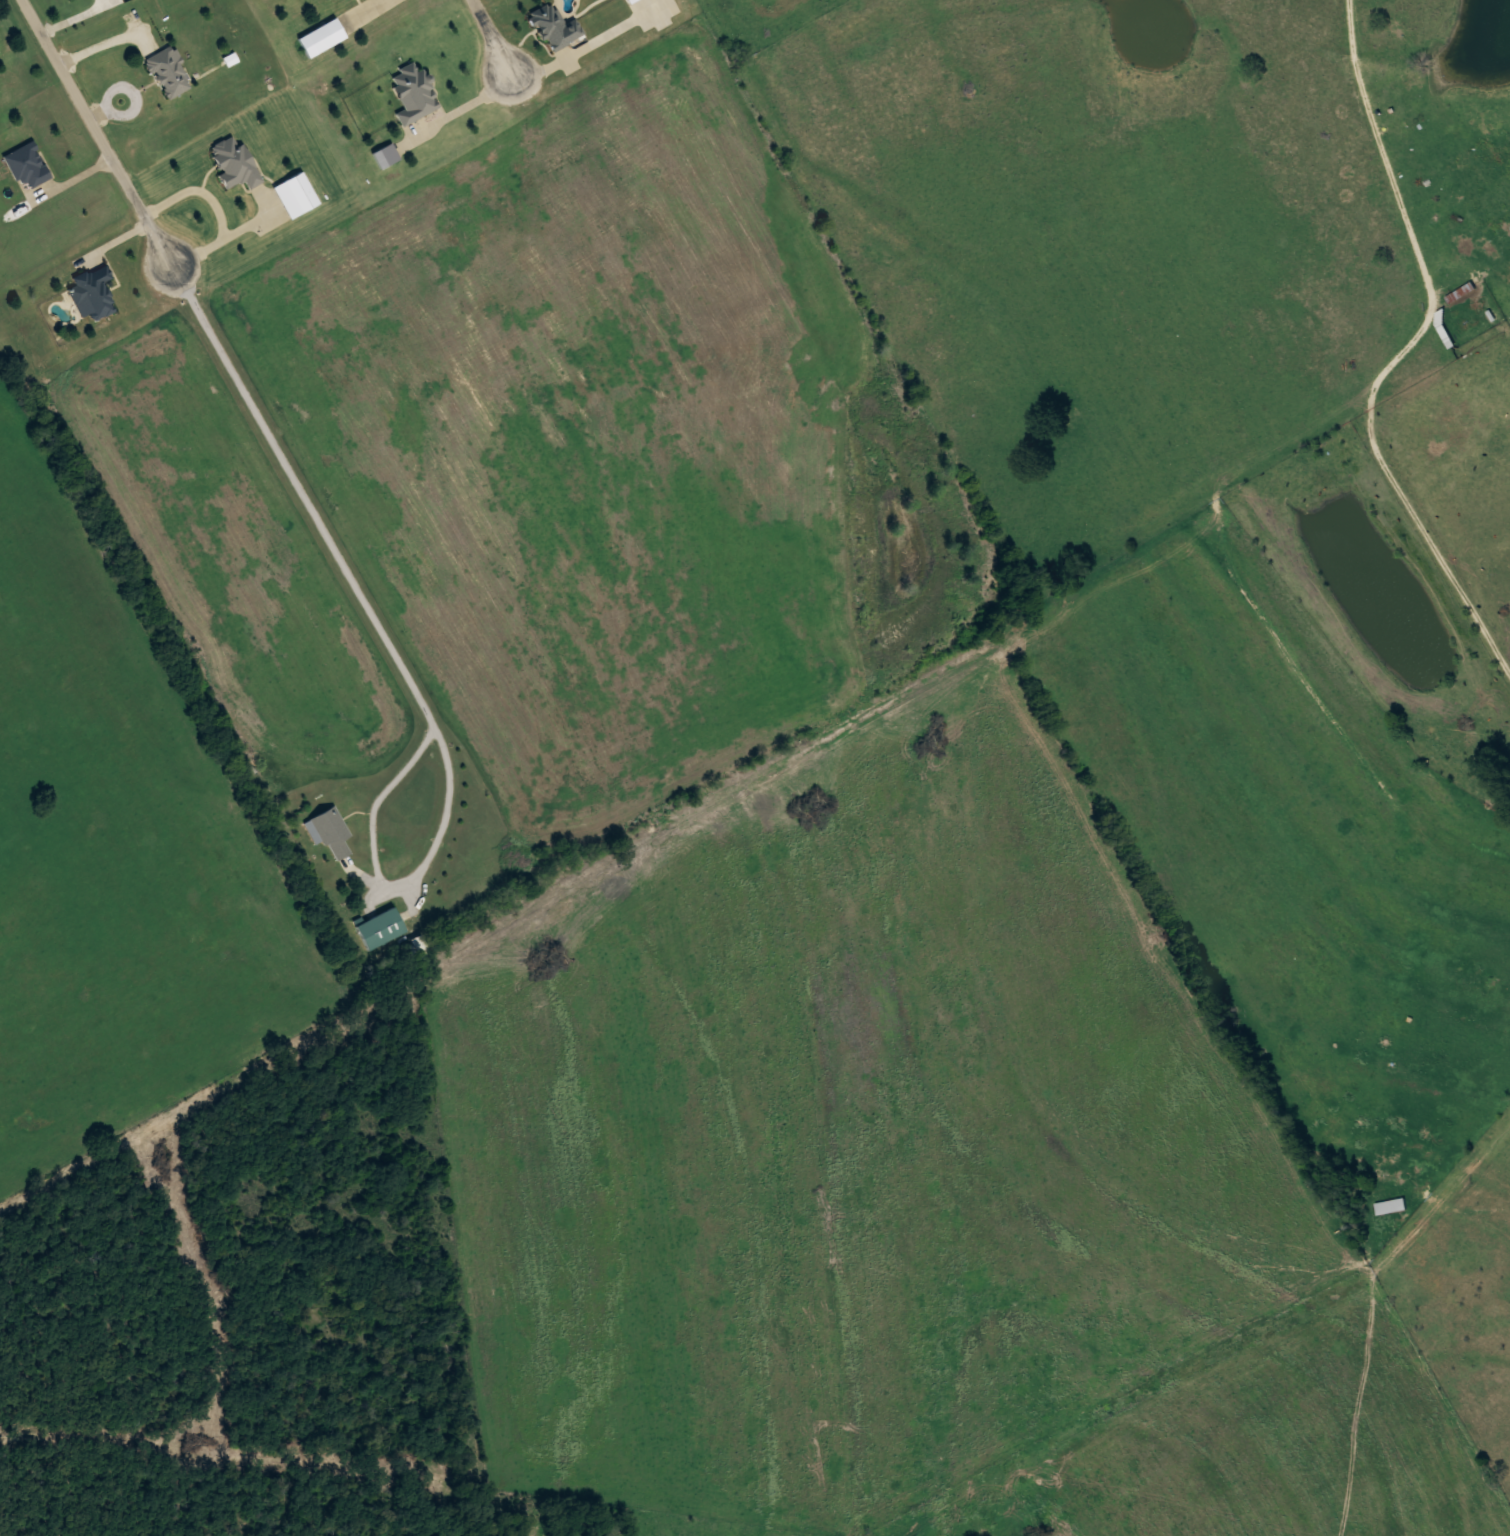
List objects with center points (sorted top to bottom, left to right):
building: (325, 35)
road: (489, 37)
building: (168, 72)
building: (413, 94)
road: (88, 114)
building: (27, 166)
building: (92, 290)
building: (1461, 293)
road: (337, 558)
building: (330, 832)
building: (381, 928)

